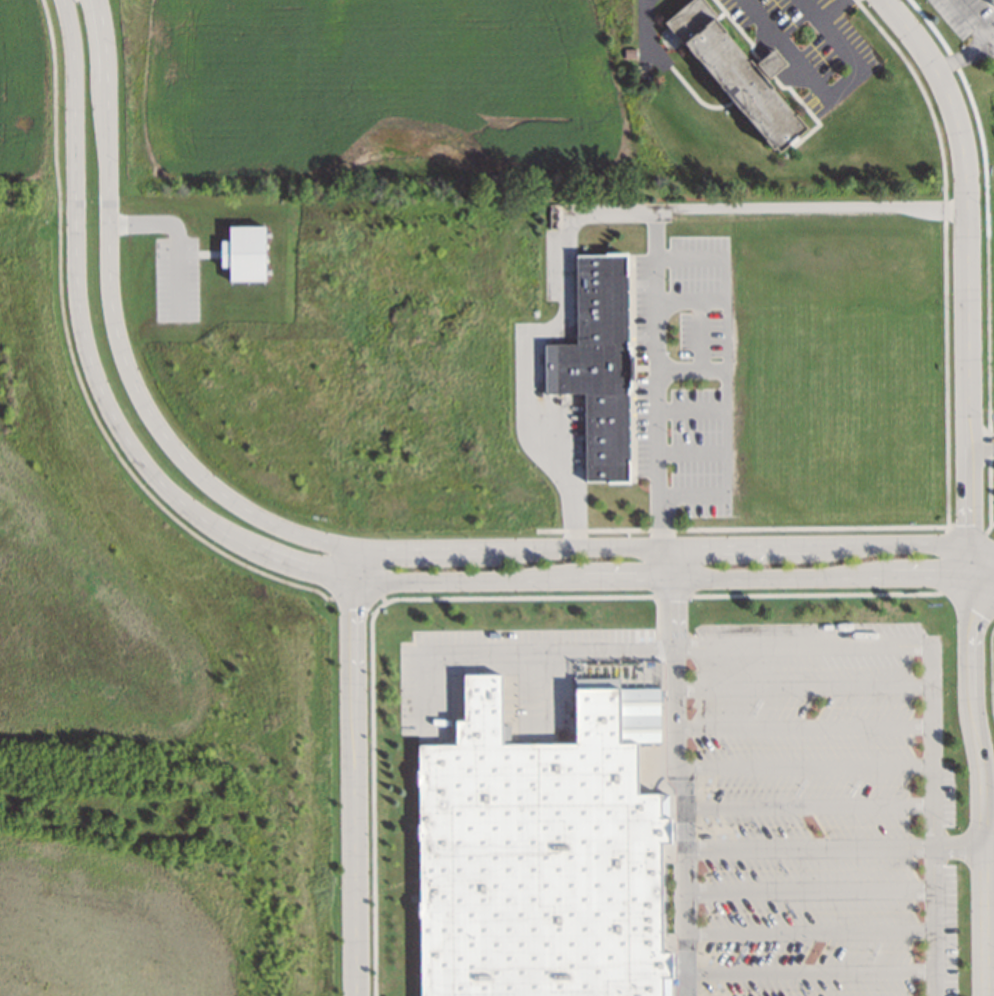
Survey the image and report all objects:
building: (991, 3)
building: (769, 63)
building: (730, 74)
road: (809, 205)
road: (592, 215)
building: (555, 216)
building: (598, 362)
road: (972, 485)
road: (337, 545)
road: (312, 571)
building: (468, 638)
road: (818, 645)
road: (991, 672)
road: (804, 687)
road: (804, 726)
road: (805, 766)
road: (678, 770)
road: (354, 771)
road: (806, 806)
road: (832, 847)
building: (535, 858)
road: (808, 889)
road: (809, 931)
road: (810, 970)

